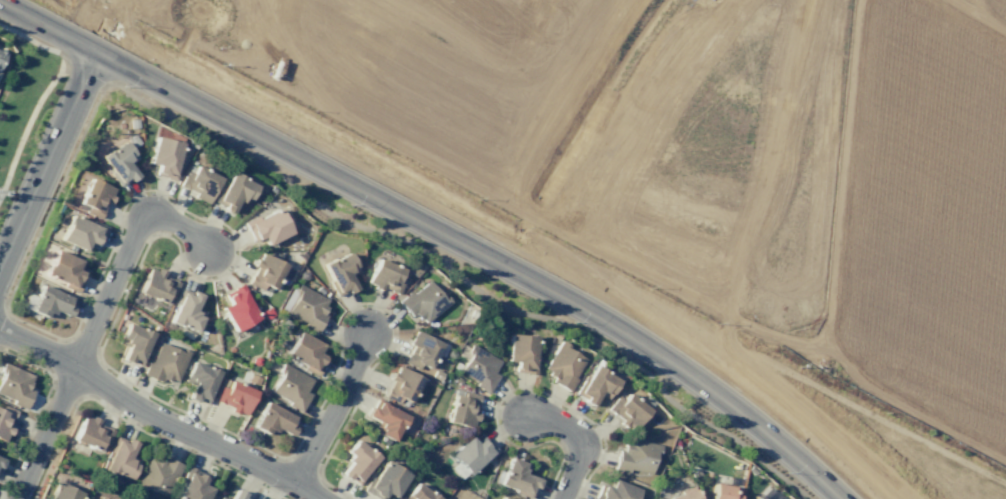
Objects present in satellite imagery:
road: (33, 41)
building: (1, 55)
park: (24, 109)
building: (132, 123)
road: (27, 125)
building: (132, 141)
building: (164, 157)
road: (47, 161)
crop: (680, 161)
building: (120, 163)
building: (199, 183)
building: (233, 192)
building: (95, 197)
building: (65, 200)
road: (354, 225)
building: (267, 227)
road: (435, 228)
building: (81, 232)
road: (126, 253)
building: (415, 269)
building: (64, 270)
building: (264, 272)
building: (340, 274)
building: (384, 276)
building: (156, 286)
building: (49, 301)
building: (422, 302)
building: (236, 307)
building: (304, 307)
building: (185, 310)
building: (265, 313)
building: (134, 344)
building: (420, 350)
building: (445, 351)
building: (305, 353)
building: (521, 353)
building: (254, 360)
building: (165, 364)
building: (562, 366)
building: (477, 367)
road: (109, 368)
building: (435, 375)
building: (253, 379)
building: (199, 382)
building: (15, 385)
building: (401, 385)
building: (594, 385)
building: (291, 387)
road: (511, 389)
building: (234, 397)
building: (461, 408)
road: (333, 409)
road: (38, 410)
building: (626, 410)
road: (158, 417)
building: (384, 419)
building: (5, 420)
building: (272, 420)
road: (131, 425)
road: (45, 431)
building: (91, 432)
road: (576, 440)
building: (470, 455)
building: (634, 456)
building: (120, 458)
building: (1, 460)
building: (357, 462)
building: (158, 475)
building: (517, 479)
building: (384, 481)
building: (192, 485)
building: (615, 491)
building: (63, 492)
building: (722, 492)
building: (418, 493)
building: (684, 494)
building: (237, 495)
building: (758, 497)
building: (90, 498)
building: (220, 498)
building: (501, 498)
building: (503, 498)

